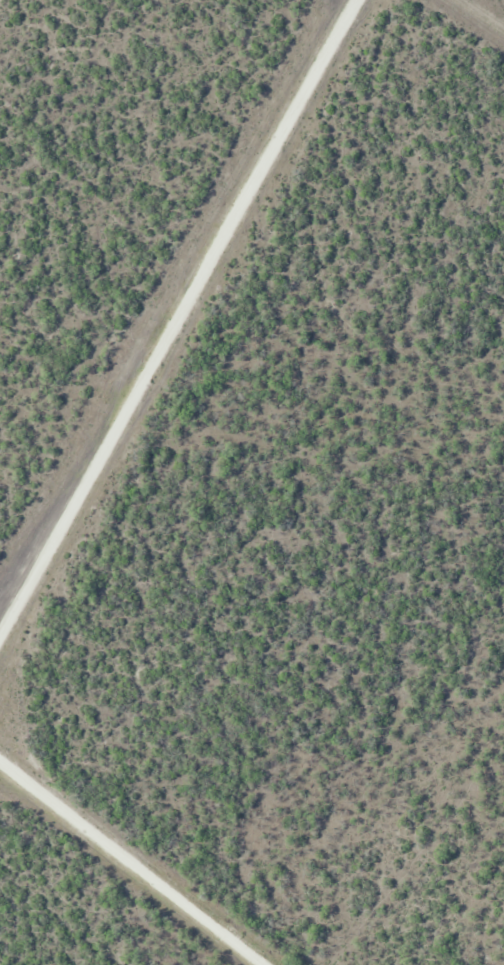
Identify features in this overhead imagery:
road: (199, 355)
road: (98, 883)

